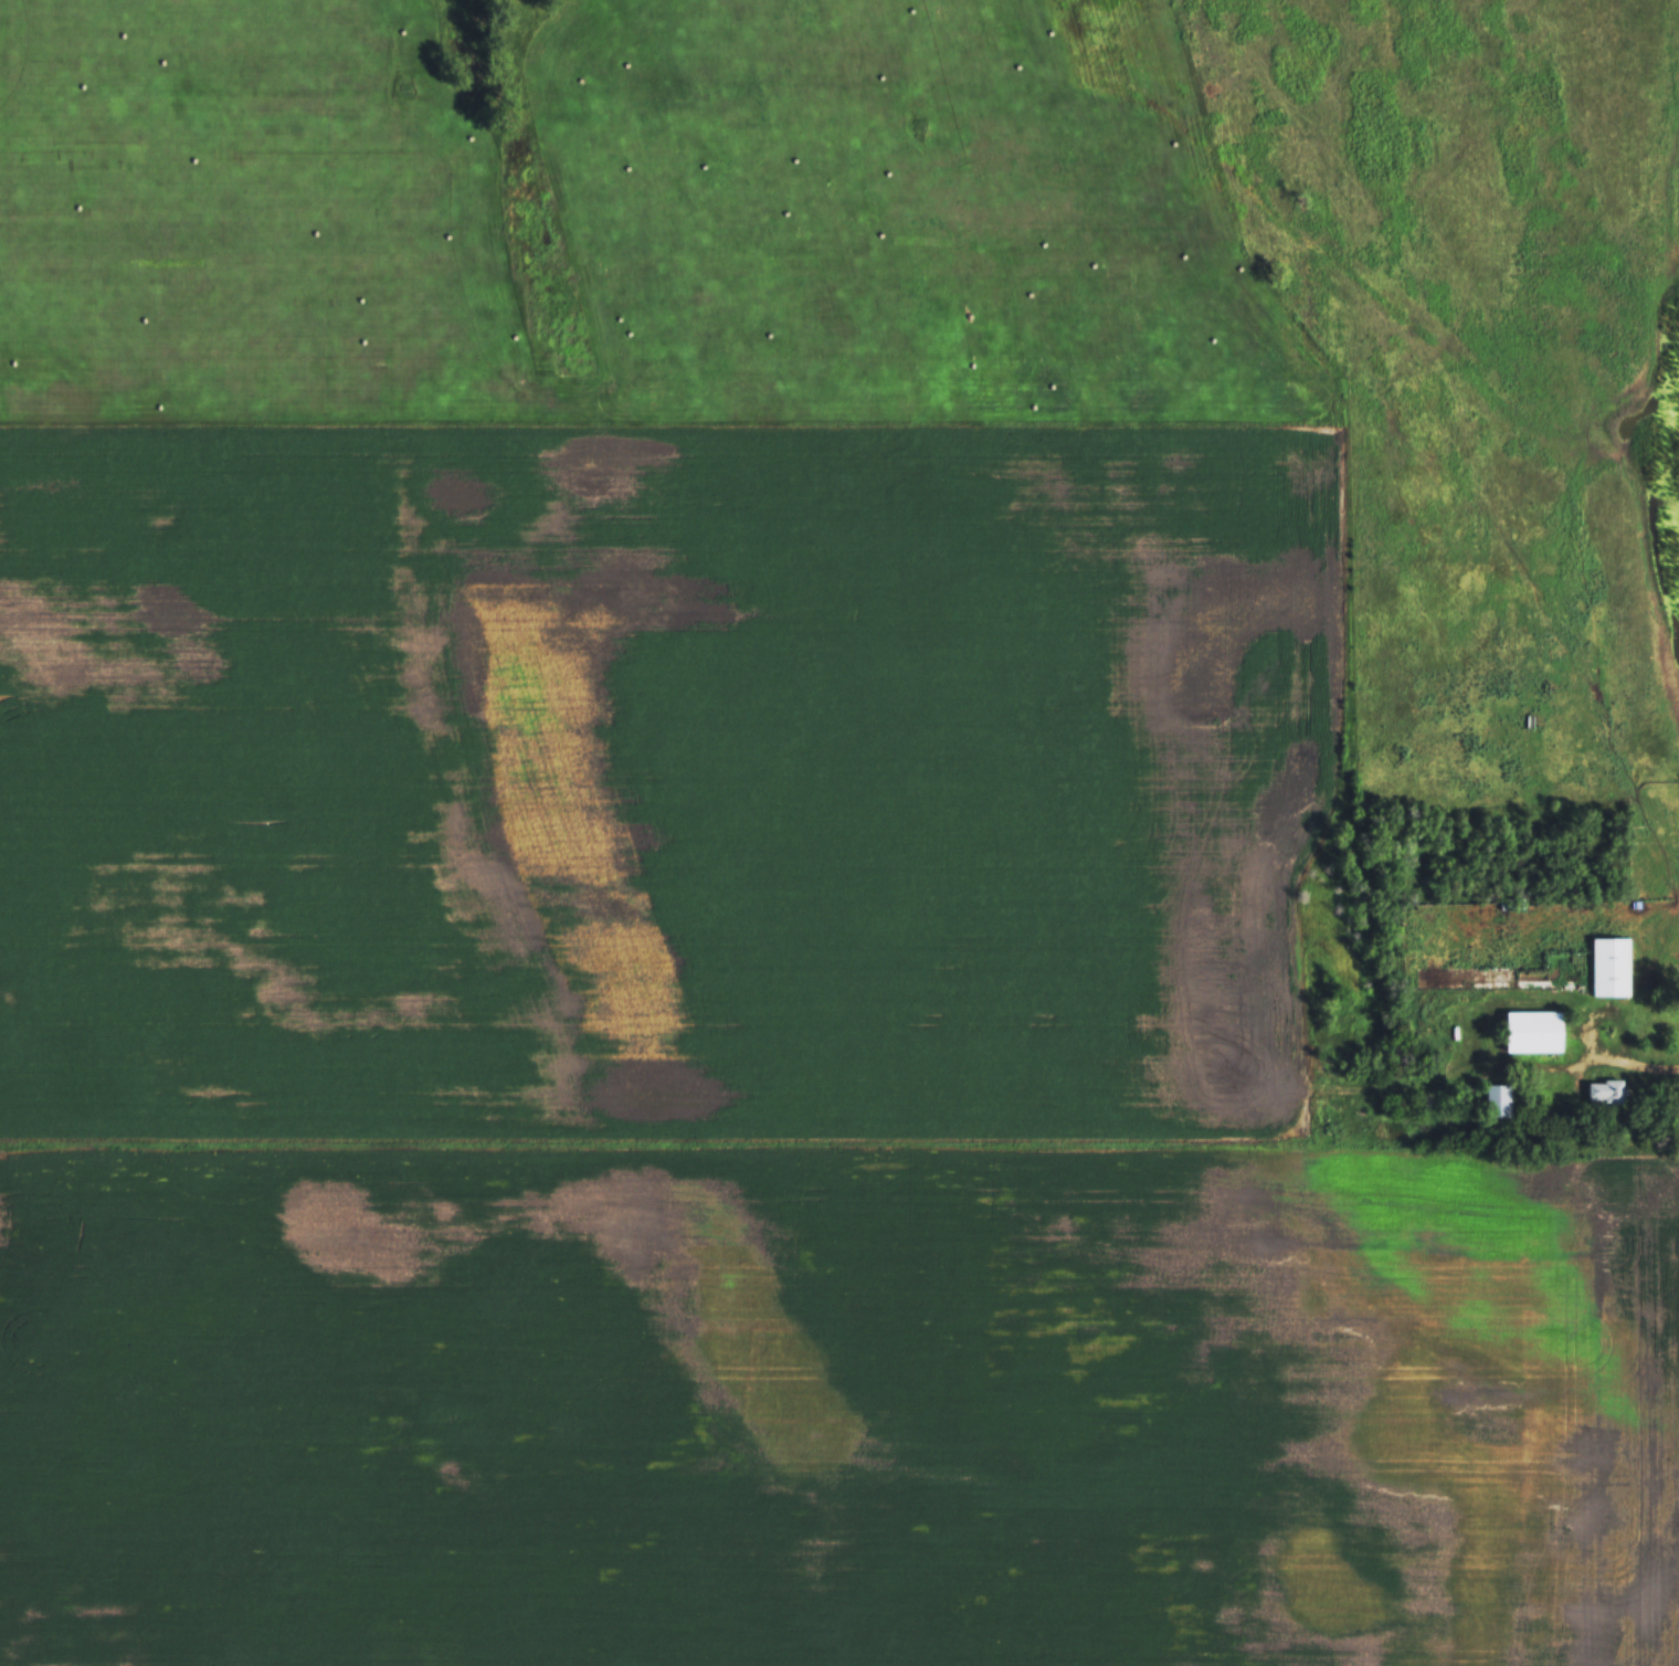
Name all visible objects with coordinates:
building: (1509, 901)
building: (1605, 967)
road: (1467, 1011)
building: (1527, 1032)
road: (1643, 1069)
building: (1601, 1092)
building: (1493, 1100)

